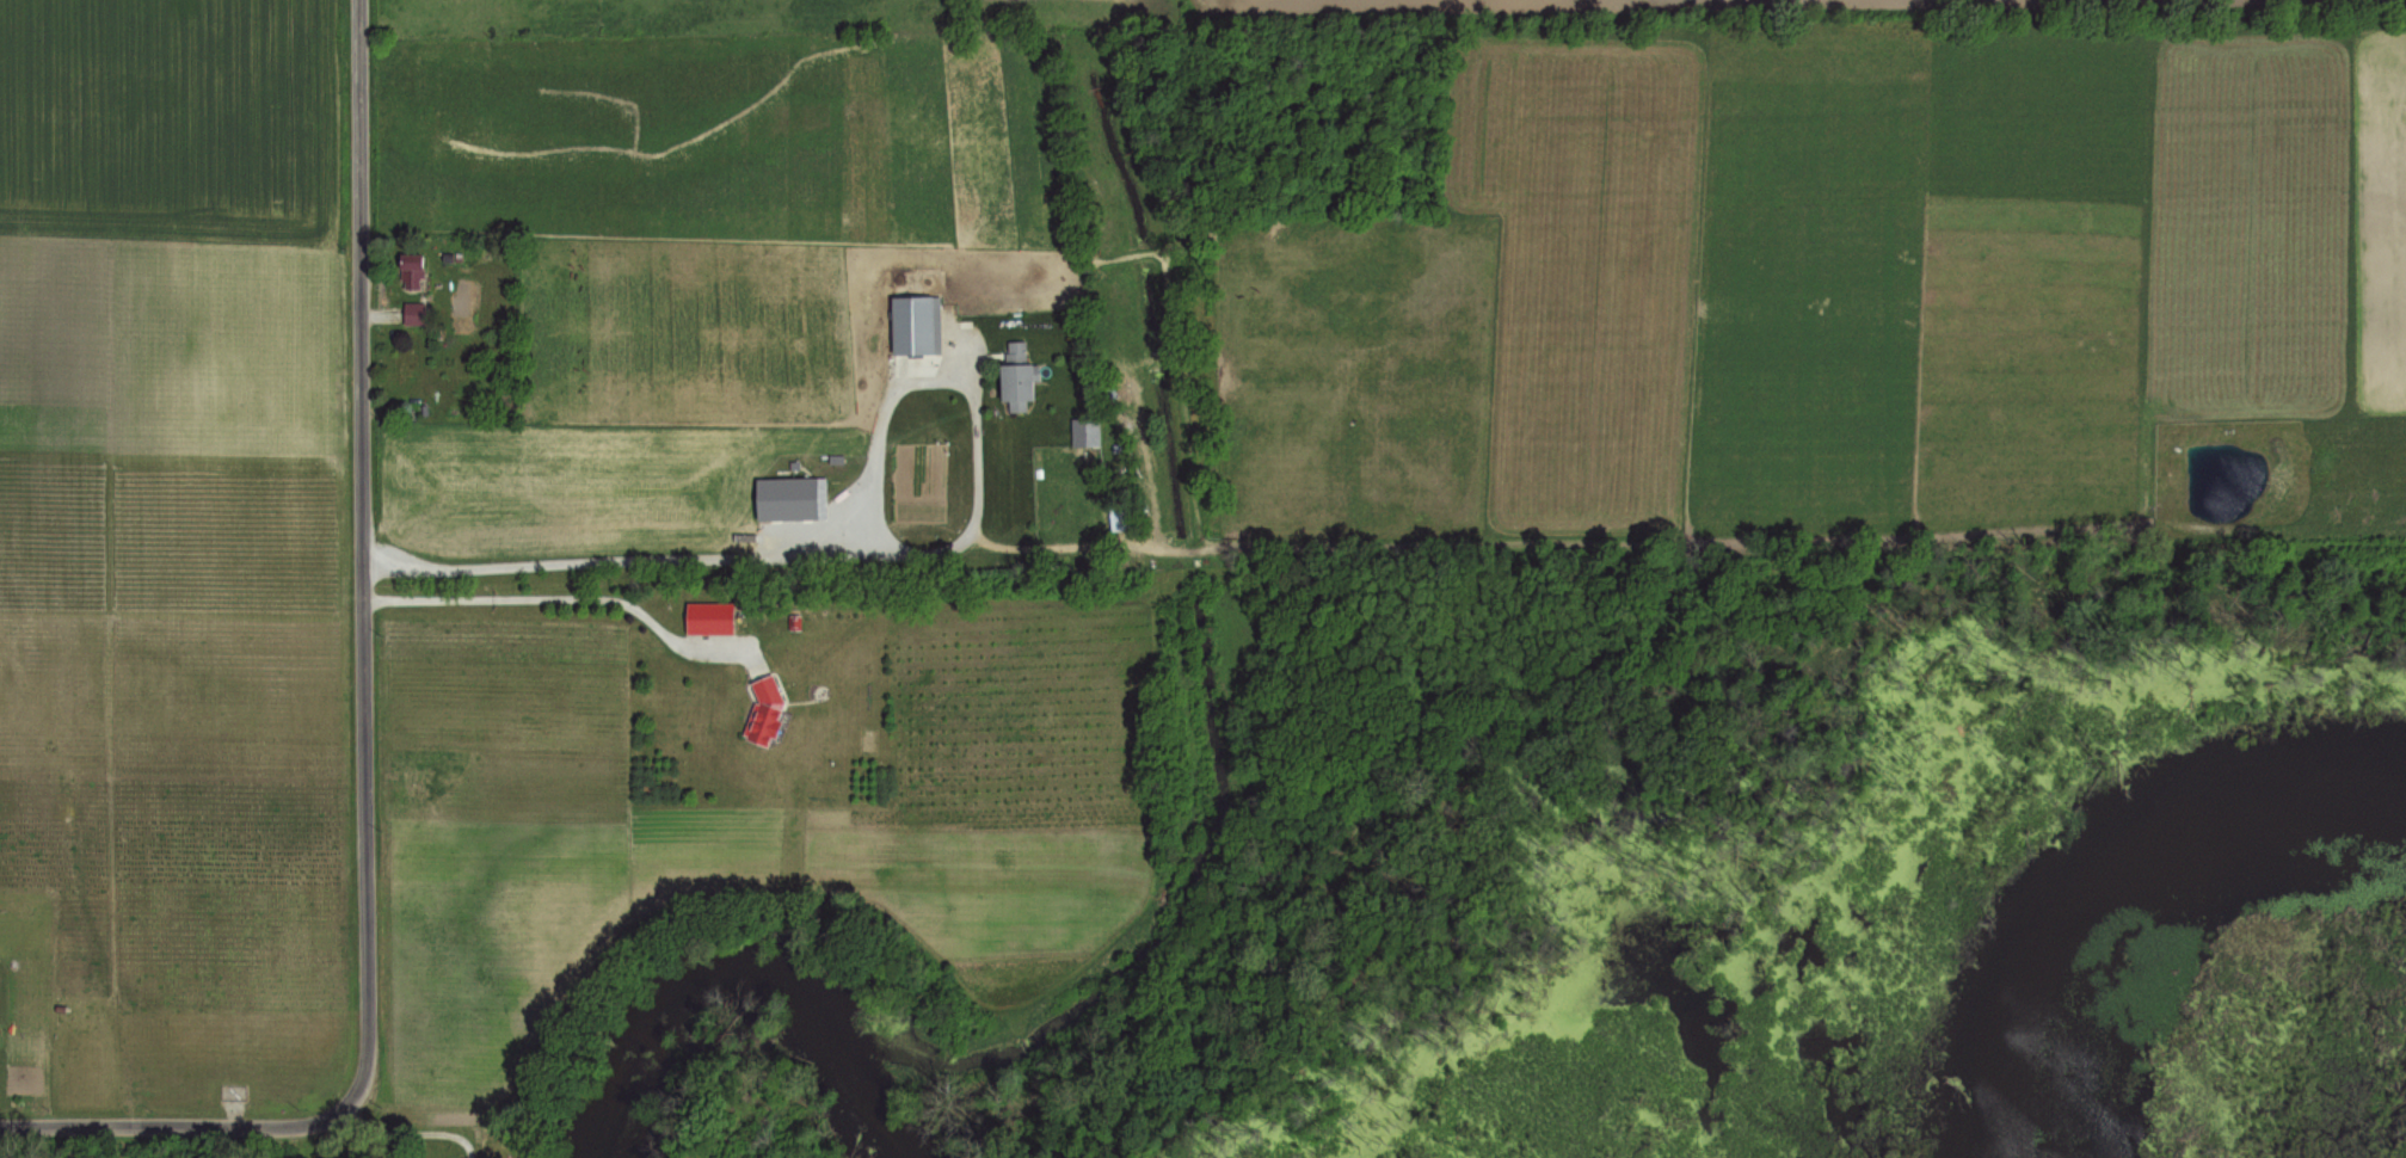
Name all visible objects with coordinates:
building: (412, 271)
building: (912, 325)
building: (1017, 376)
building: (882, 377)
road: (361, 563)
building: (710, 618)
building: (764, 713)
river: (2097, 860)
river: (745, 967)
road: (170, 1131)
road: (402, 1140)
road: (370, 1150)

